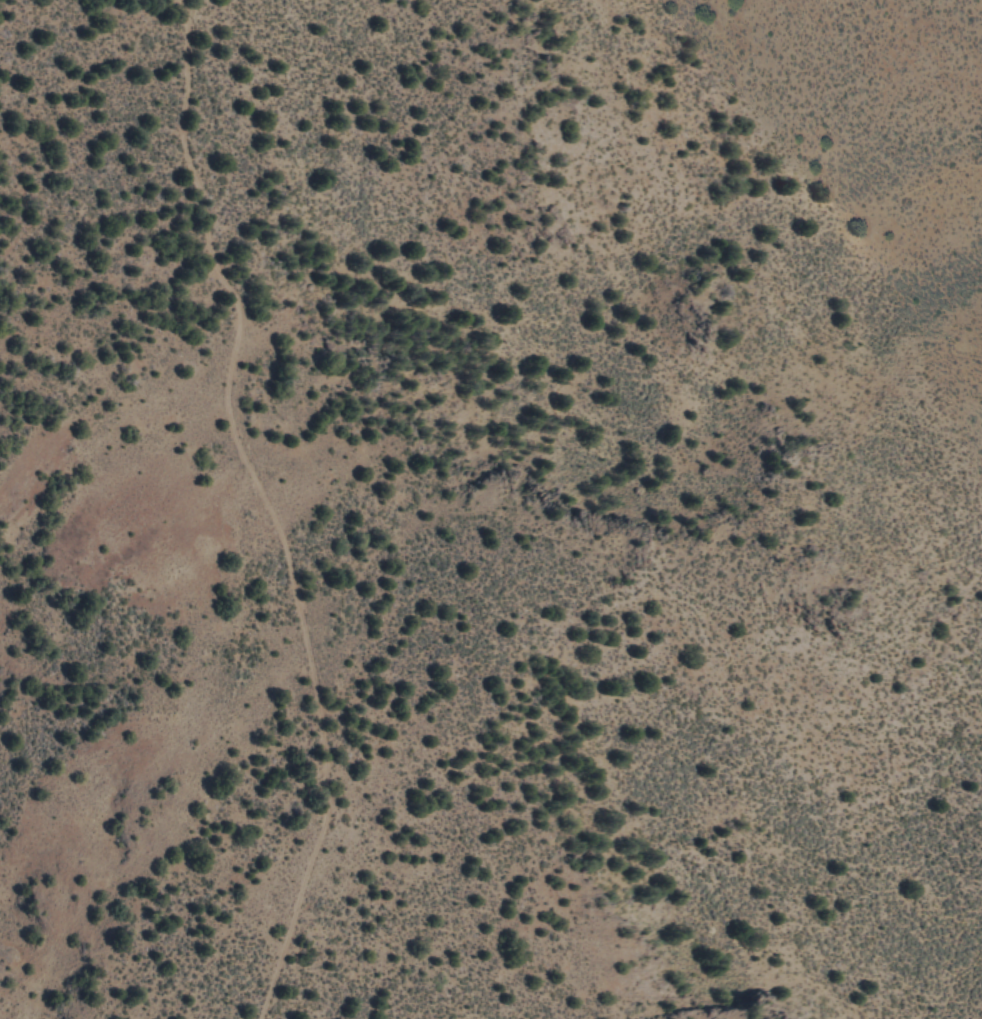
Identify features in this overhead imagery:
road: (316, 516)

